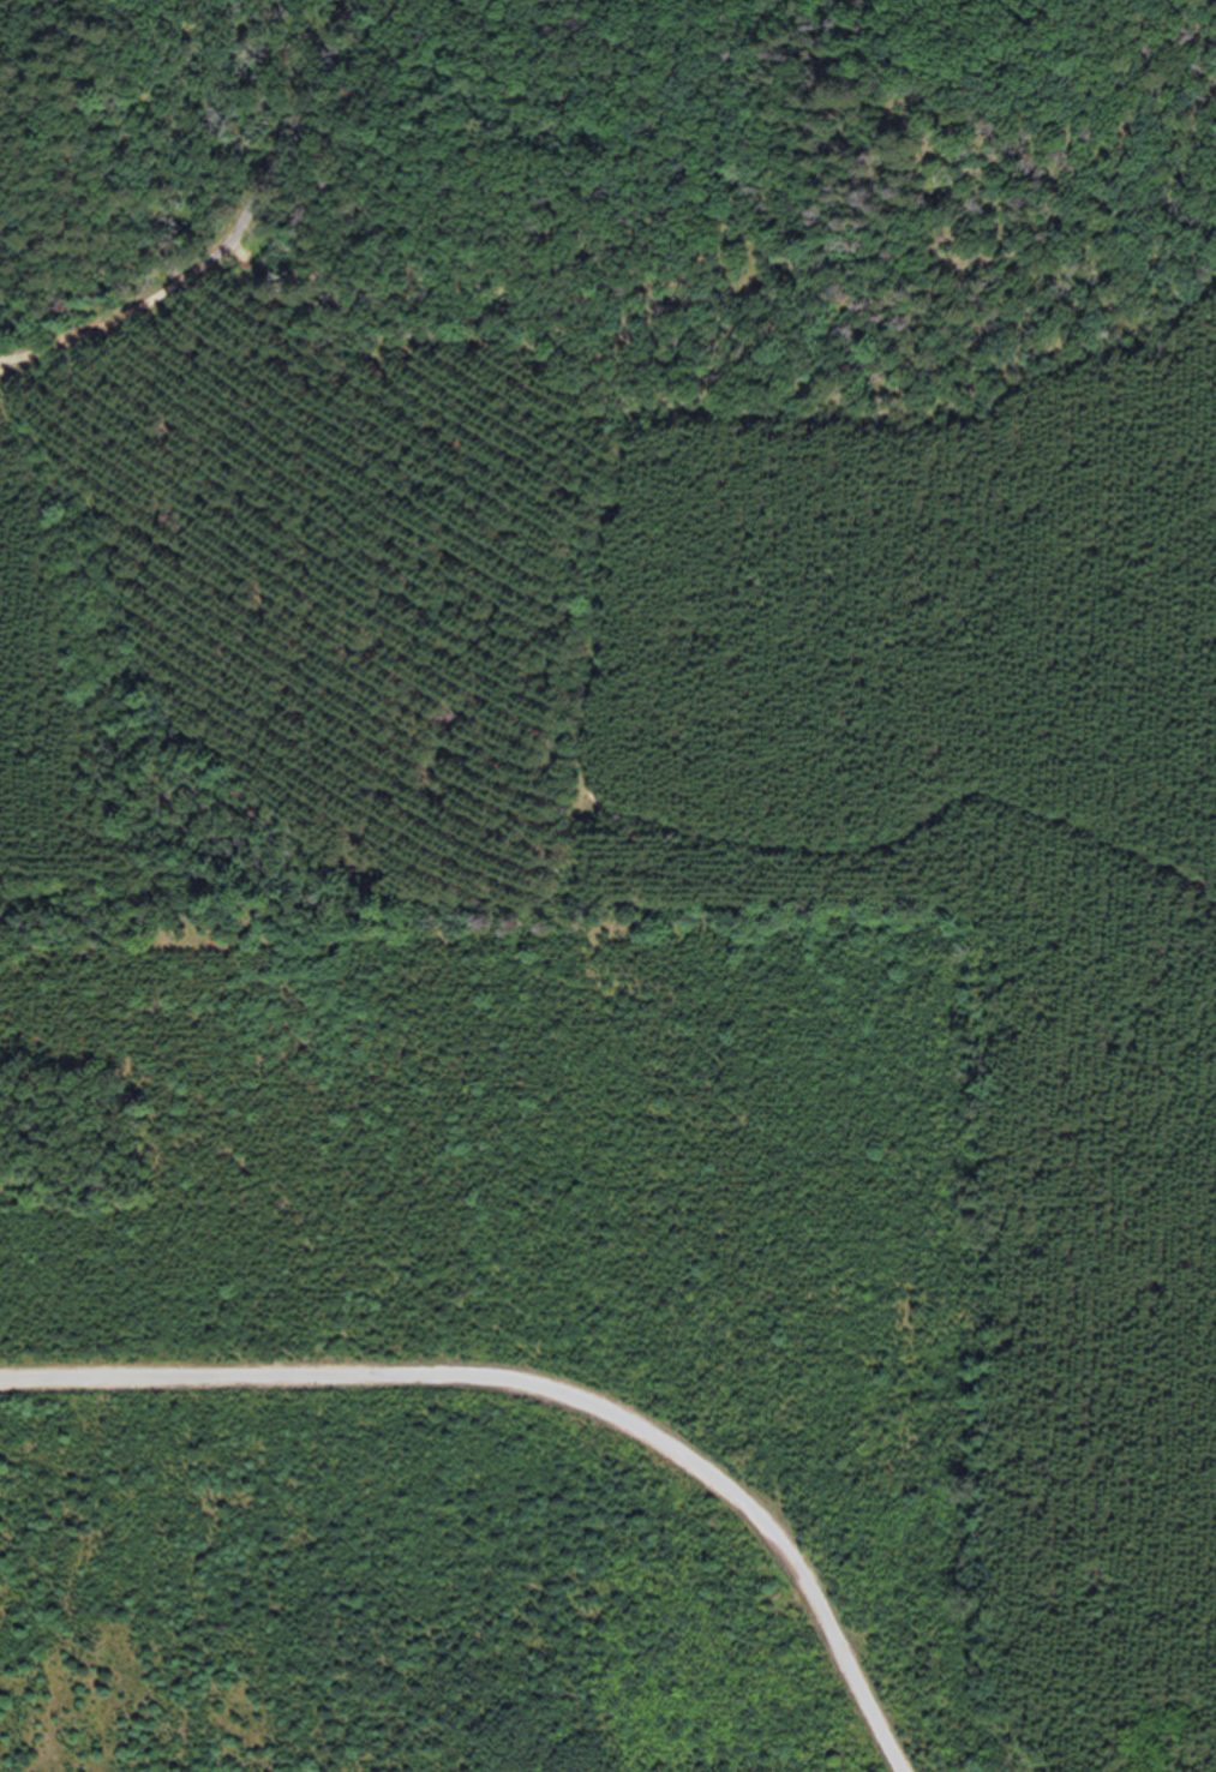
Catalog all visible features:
road: (539, 1394)

